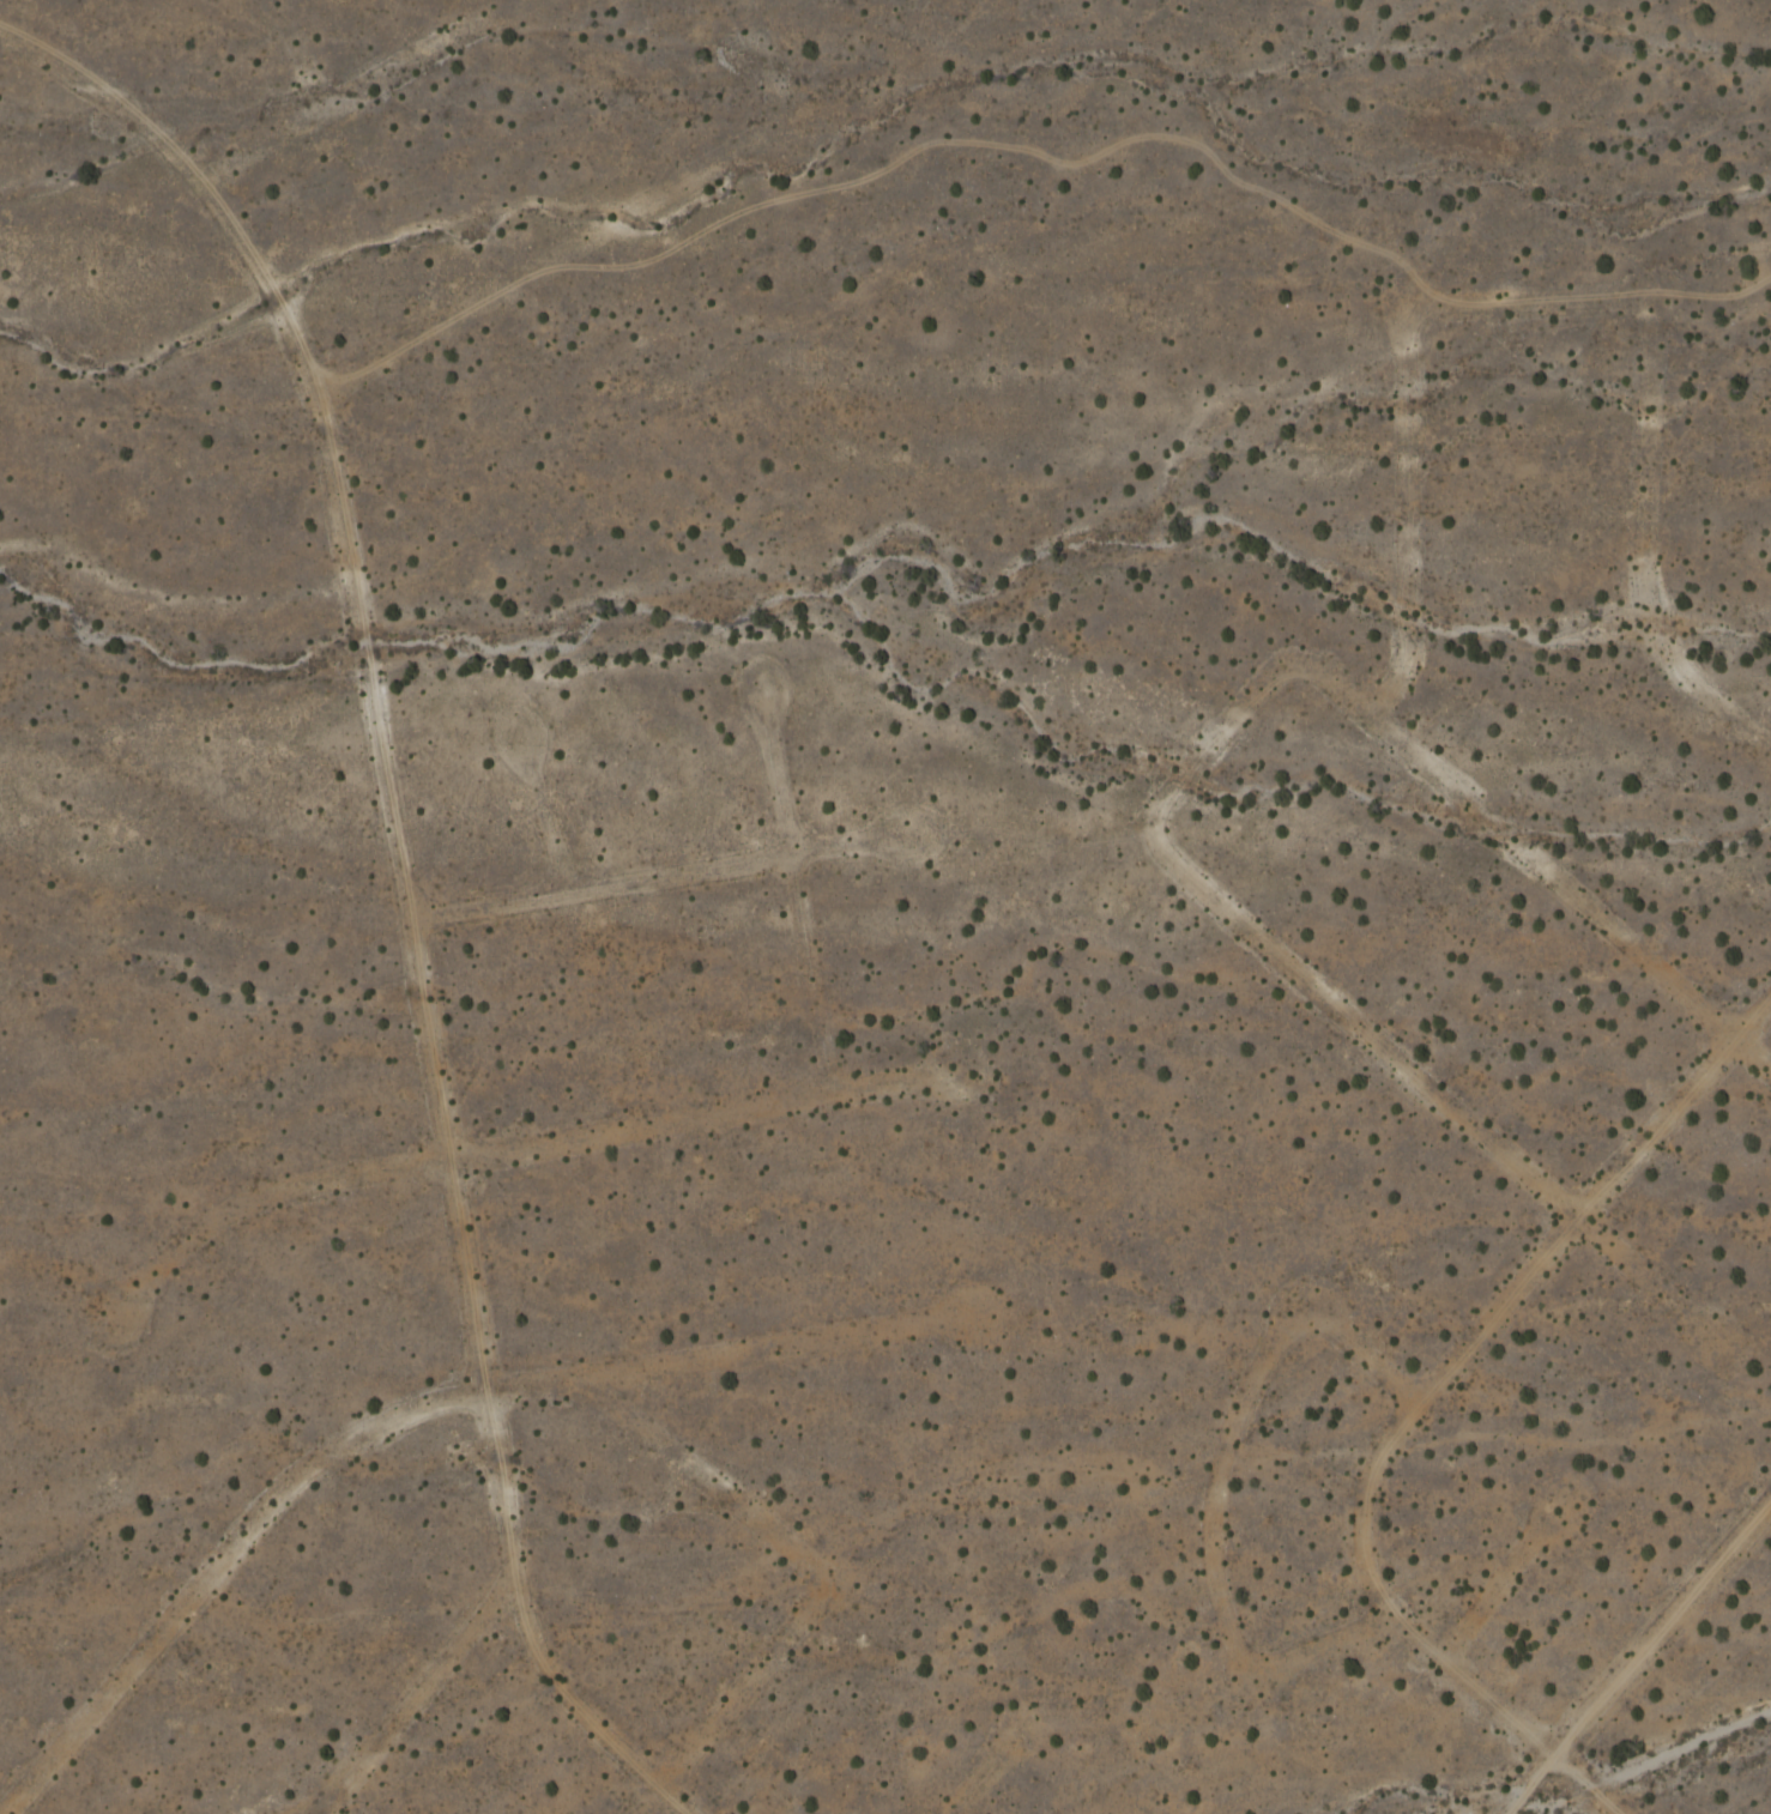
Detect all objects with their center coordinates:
road: (887, 1601)

